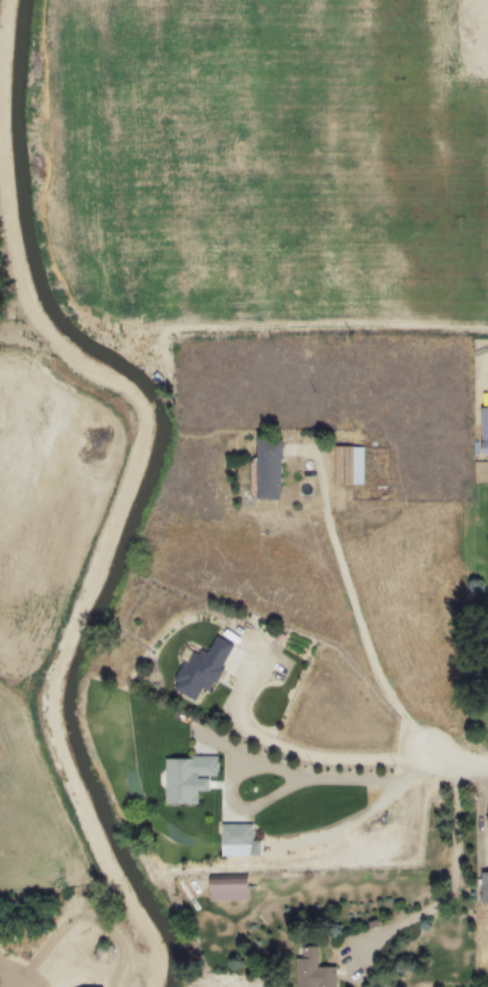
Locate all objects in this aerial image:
building: (484, 429)
building: (347, 463)
building: (268, 467)
road: (134, 484)
road: (361, 625)
building: (200, 667)
road: (331, 762)
building: (187, 777)
road: (364, 780)
road: (231, 802)
building: (238, 839)
building: (227, 886)
building: (484, 886)
building: (79, 939)
building: (312, 970)

